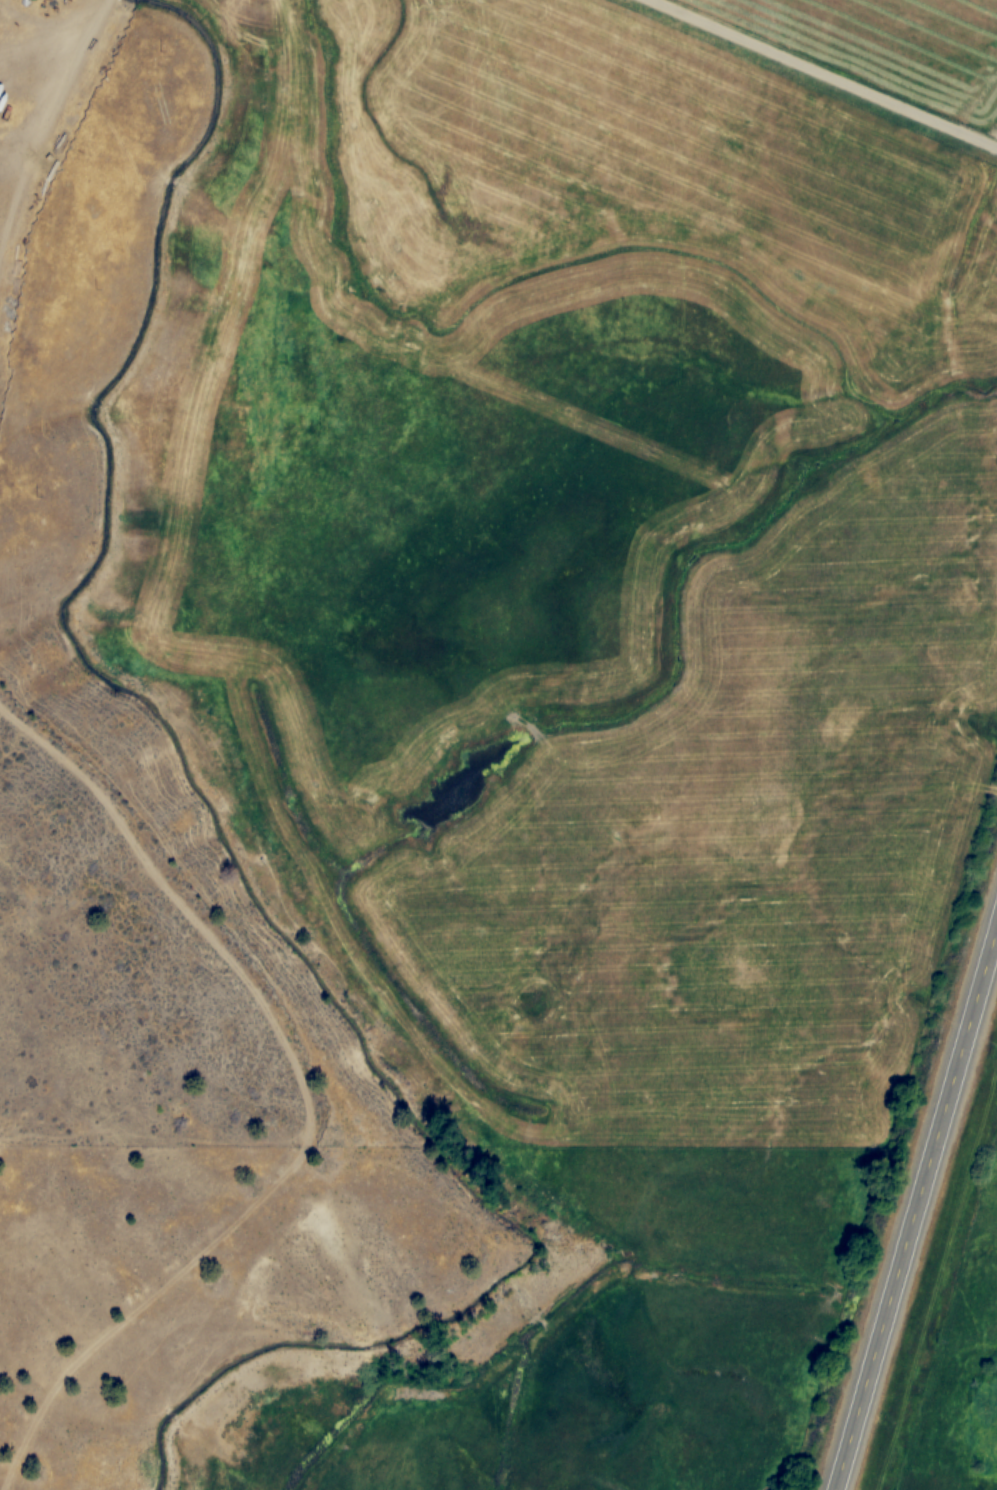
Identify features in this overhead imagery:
road: (97, 16)
road: (44, 27)
road: (830, 72)
road: (37, 142)
road: (84, 784)
road: (916, 1208)

